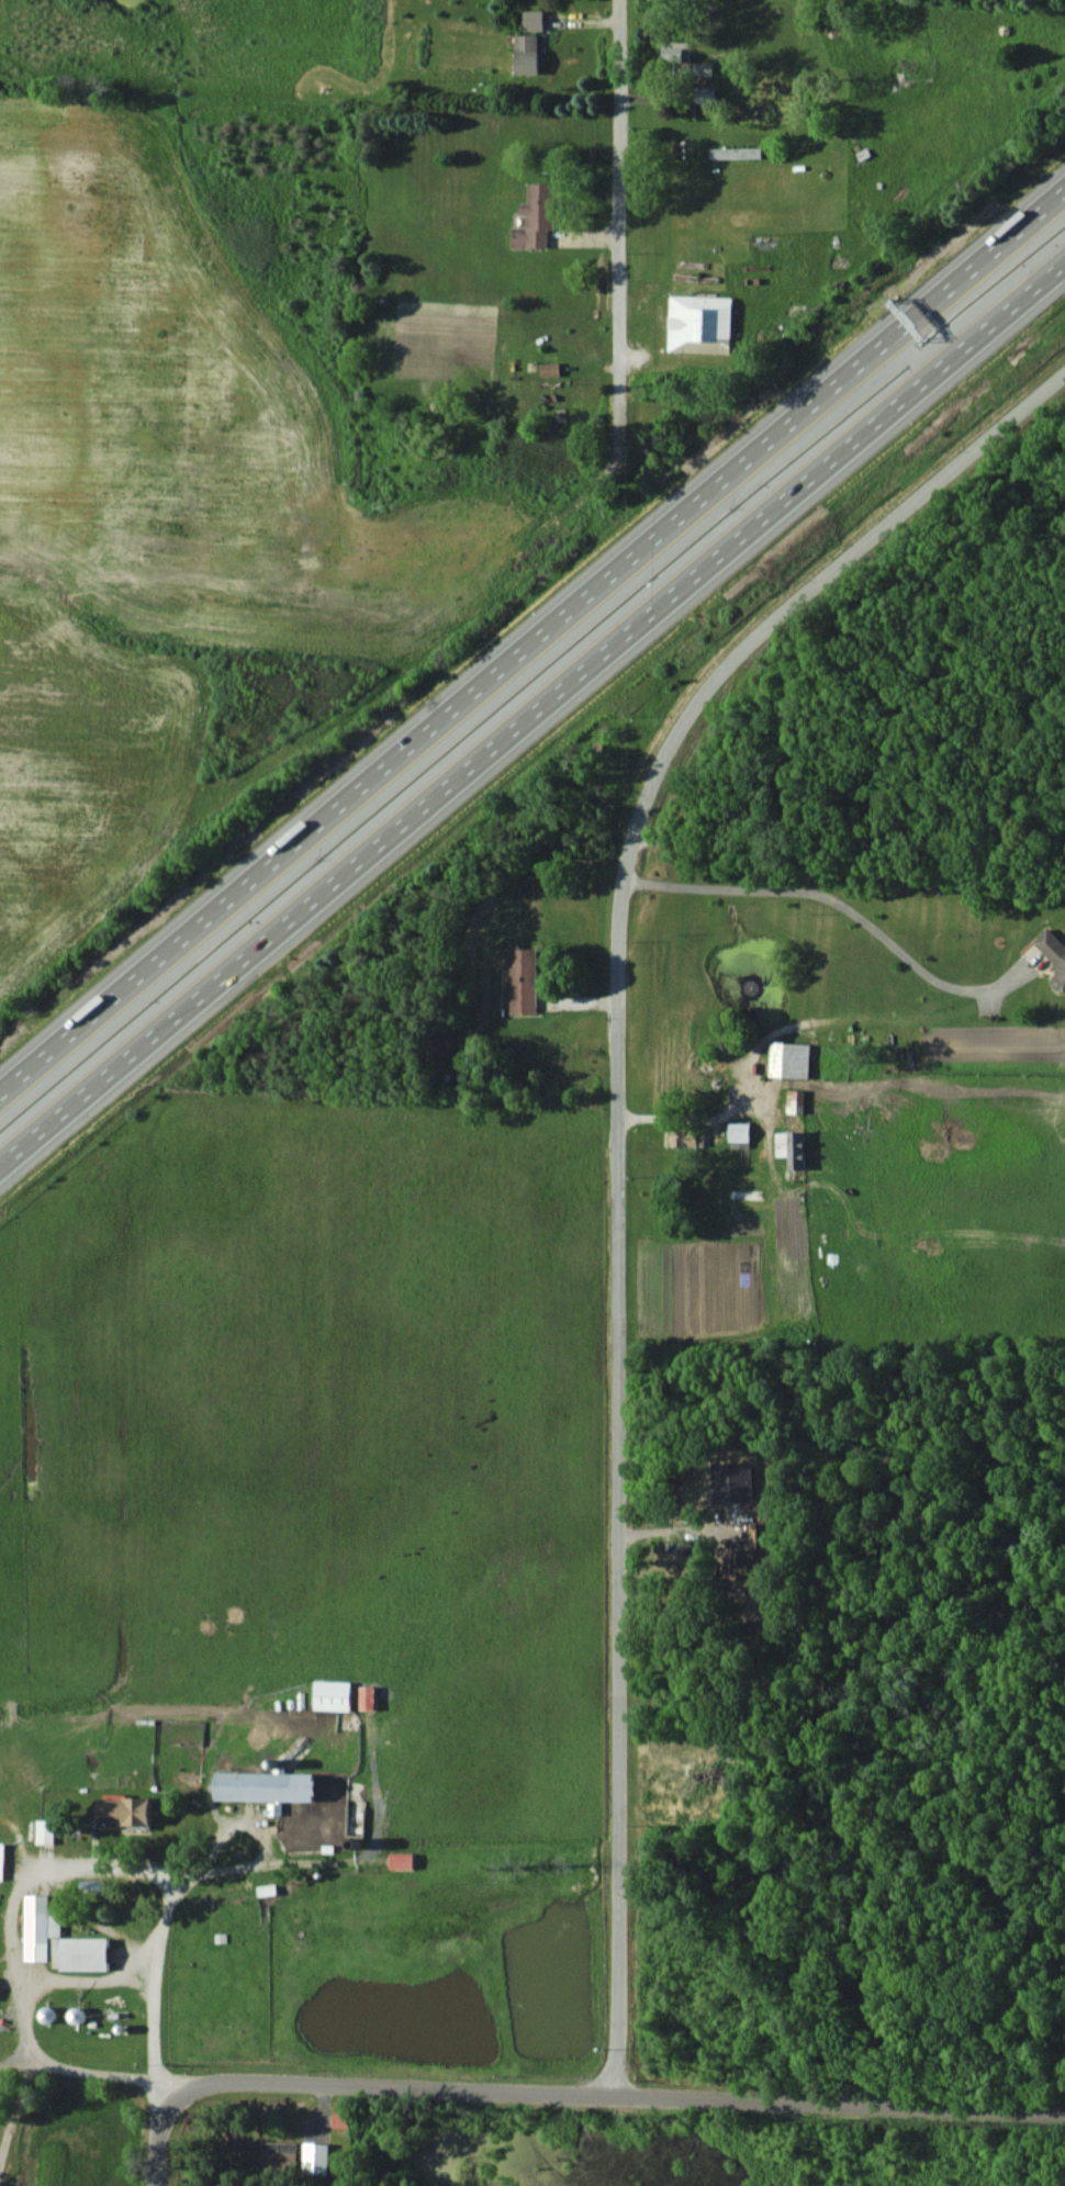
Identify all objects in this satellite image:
building: (532, 19)
building: (527, 53)
building: (683, 59)
building: (704, 93)
building: (736, 152)
road: (615, 193)
road: (1036, 206)
building: (536, 216)
road: (1057, 260)
road: (957, 276)
road: (996, 315)
building: (699, 323)
road: (923, 343)
road: (860, 360)
building: (549, 368)
road: (894, 404)
road: (800, 603)
road: (406, 744)
road: (423, 804)
road: (844, 907)
building: (1053, 954)
building: (523, 979)
building: (789, 1058)
building: (795, 1100)
road: (690, 1118)
building: (739, 1133)
building: (684, 1137)
building: (791, 1146)
building: (731, 1481)
road: (618, 1488)
road: (674, 1529)
building: (747, 1559)
building: (332, 1694)
building: (368, 1696)
building: (266, 1785)
building: (45, 1830)
building: (1, 1859)
building: (401, 1860)
road: (40, 1870)
building: (59, 1939)
road: (83, 1978)
road: (391, 2089)
road: (841, 2101)
building: (340, 2119)
road: (161, 2134)
building: (279, 2153)
building: (316, 2157)

